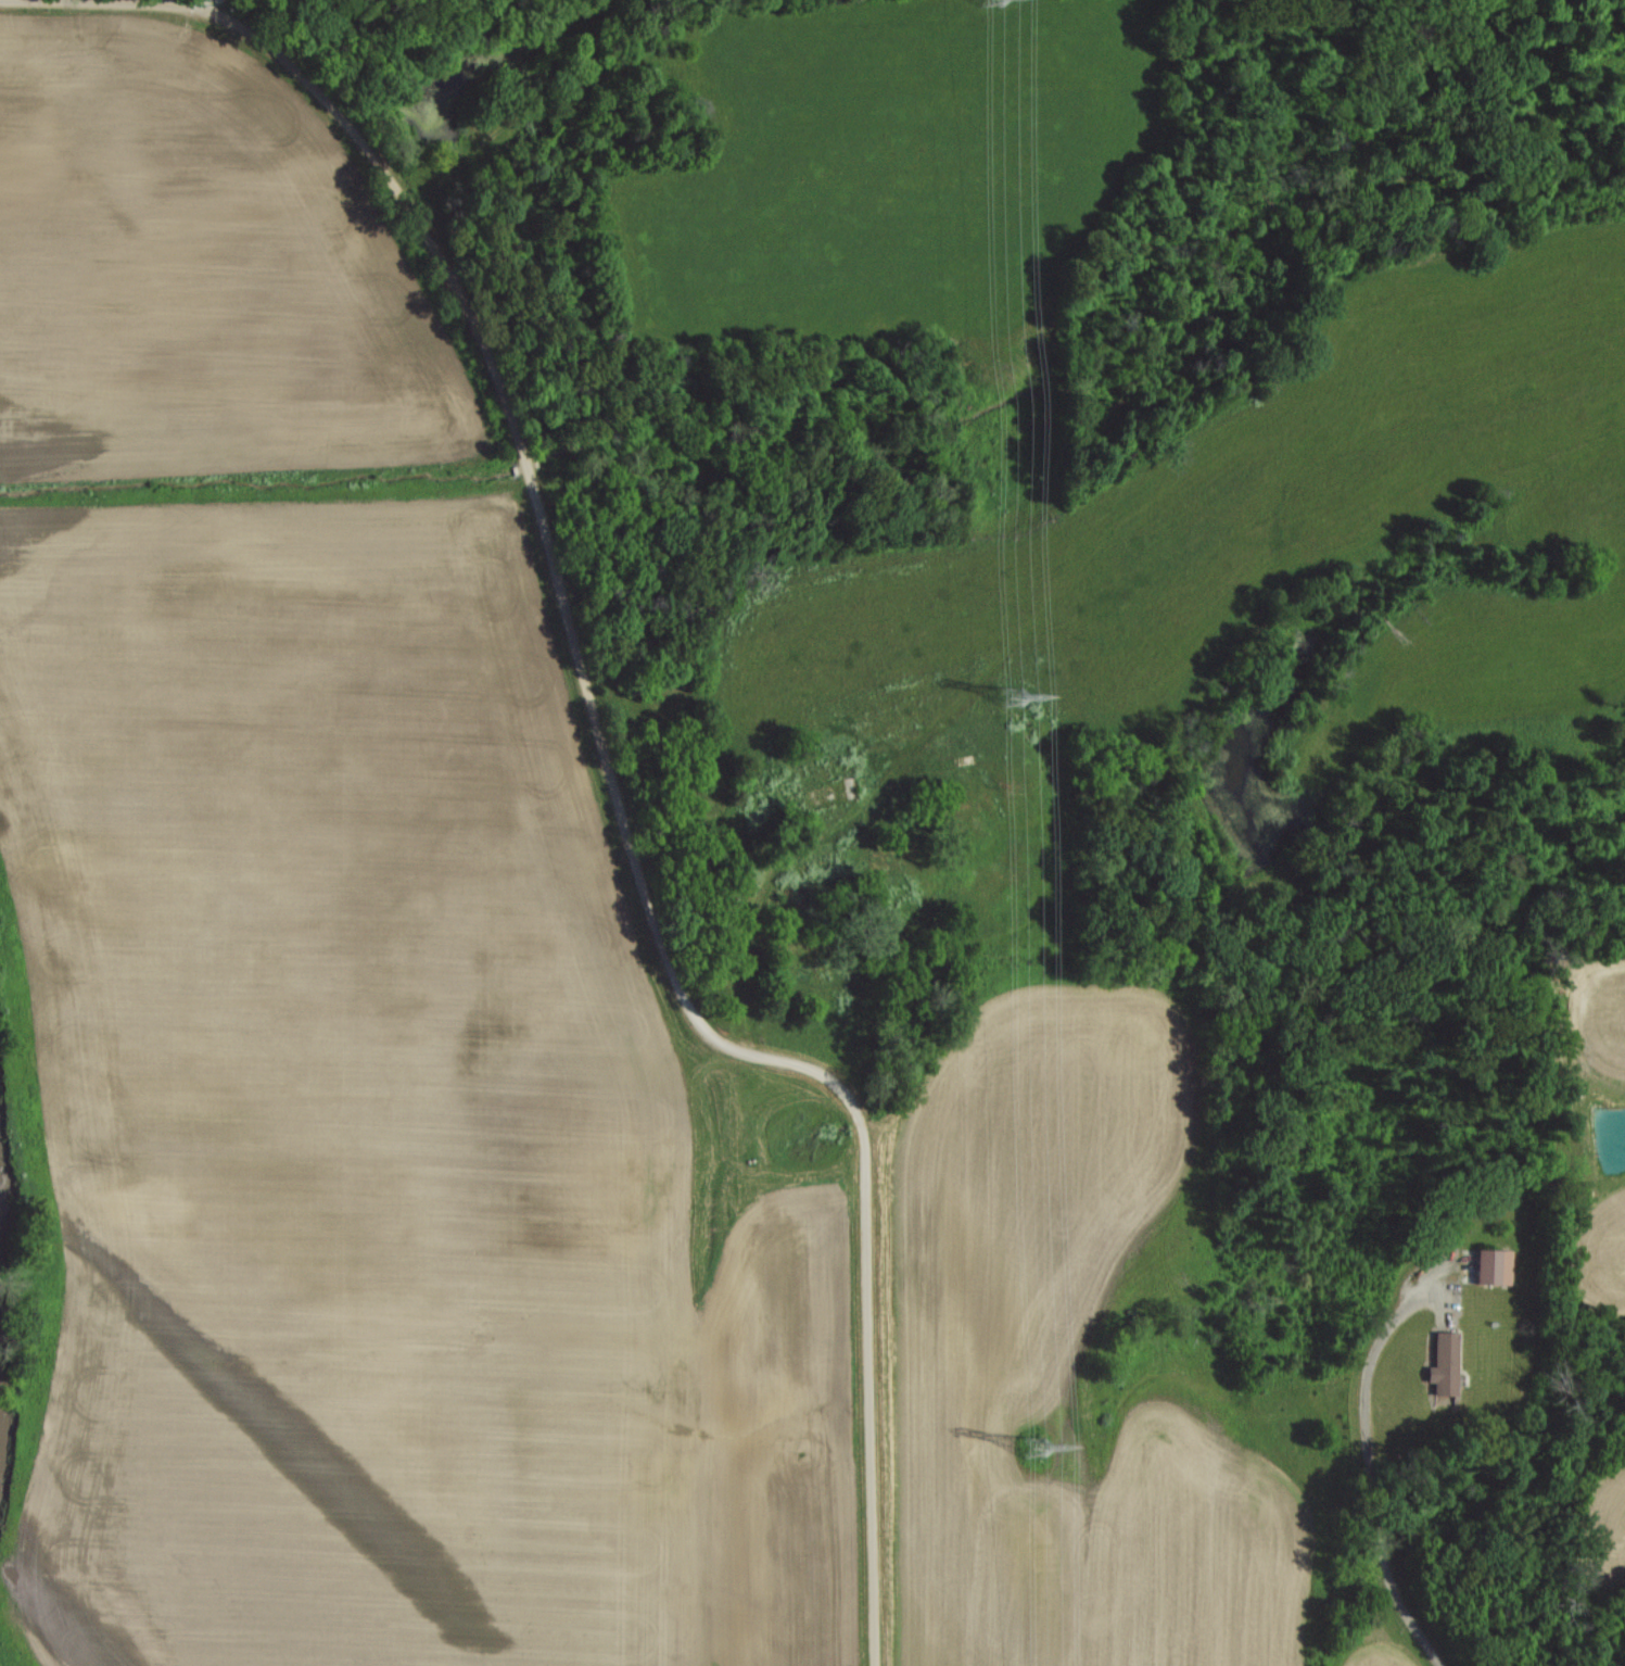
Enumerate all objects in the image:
road: (200, 8)
power tower: (1010, 696)
road: (607, 733)
power tower: (1030, 1448)
road: (1367, 1467)

